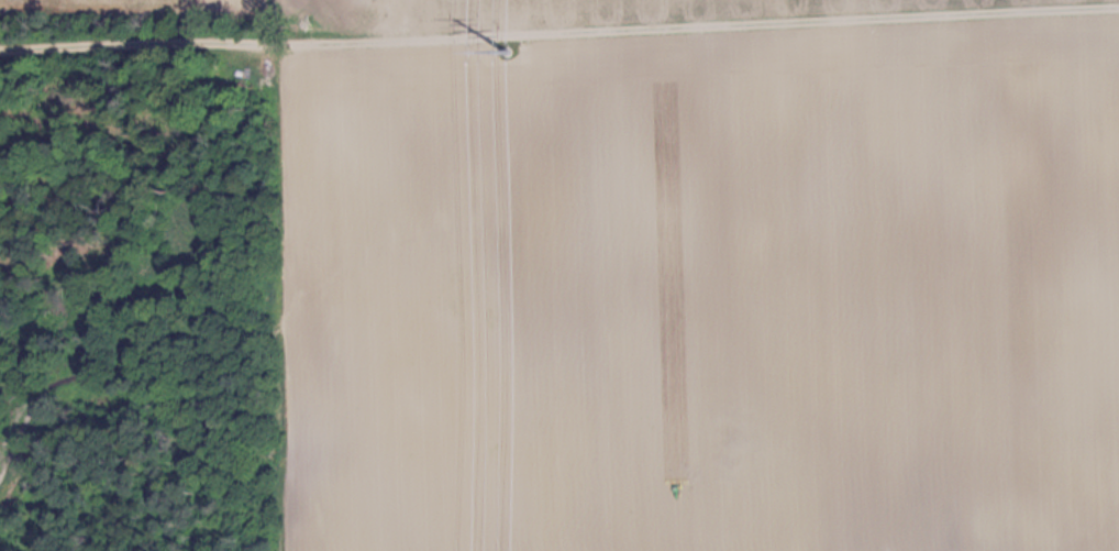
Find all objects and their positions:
power tower: (498, 46)

